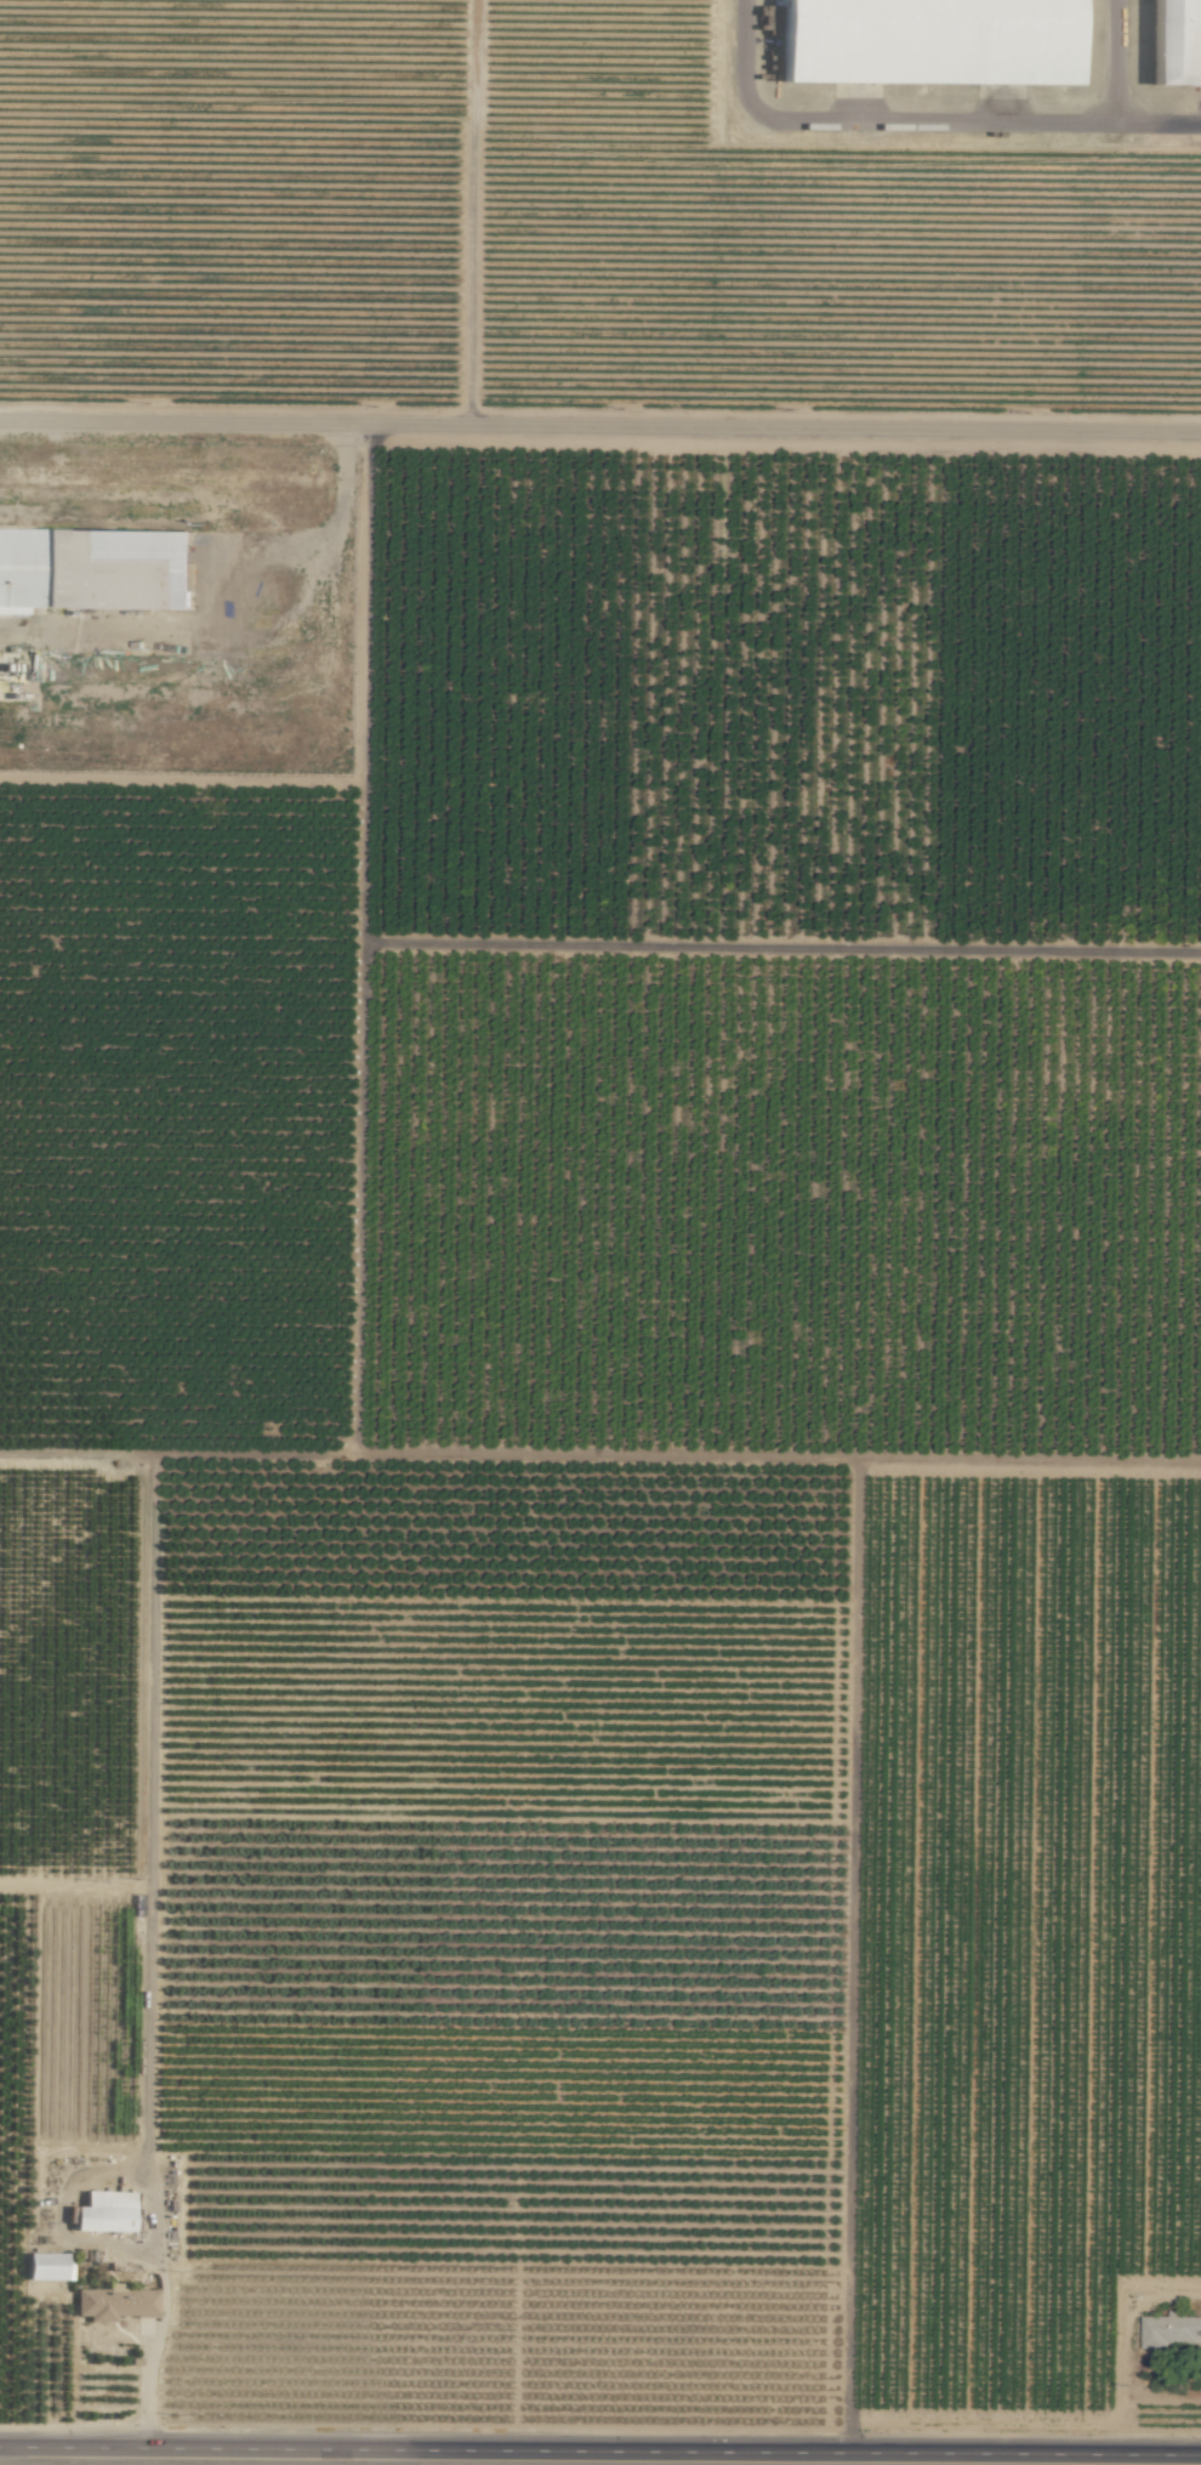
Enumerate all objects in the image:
building: (926, 41)
building: (1174, 42)
road: (1121, 59)
road: (917, 120)
road: (600, 425)
building: (96, 570)
road: (252, 638)
building: (103, 2213)
road: (104, 2242)
building: (47, 2267)
building: (114, 2304)
building: (1169, 2330)
road: (599, 2452)

